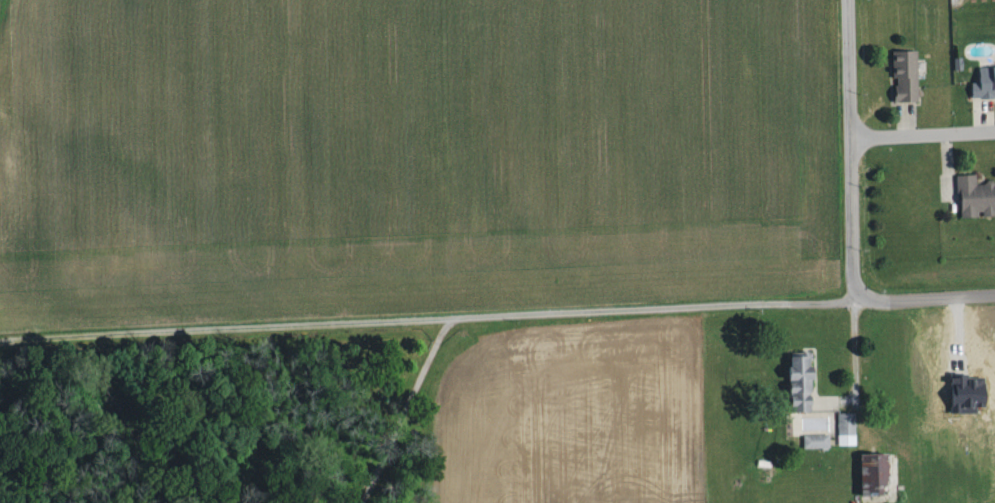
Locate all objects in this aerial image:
building: (905, 75)
building: (985, 84)
road: (983, 117)
road: (906, 121)
road: (922, 133)
road: (850, 144)
road: (947, 164)
building: (976, 197)
road: (921, 300)
road: (435, 315)
road: (956, 332)
road: (854, 361)
building: (801, 382)
building: (968, 392)
road: (403, 408)
building: (845, 426)
building: (818, 441)
building: (879, 471)

